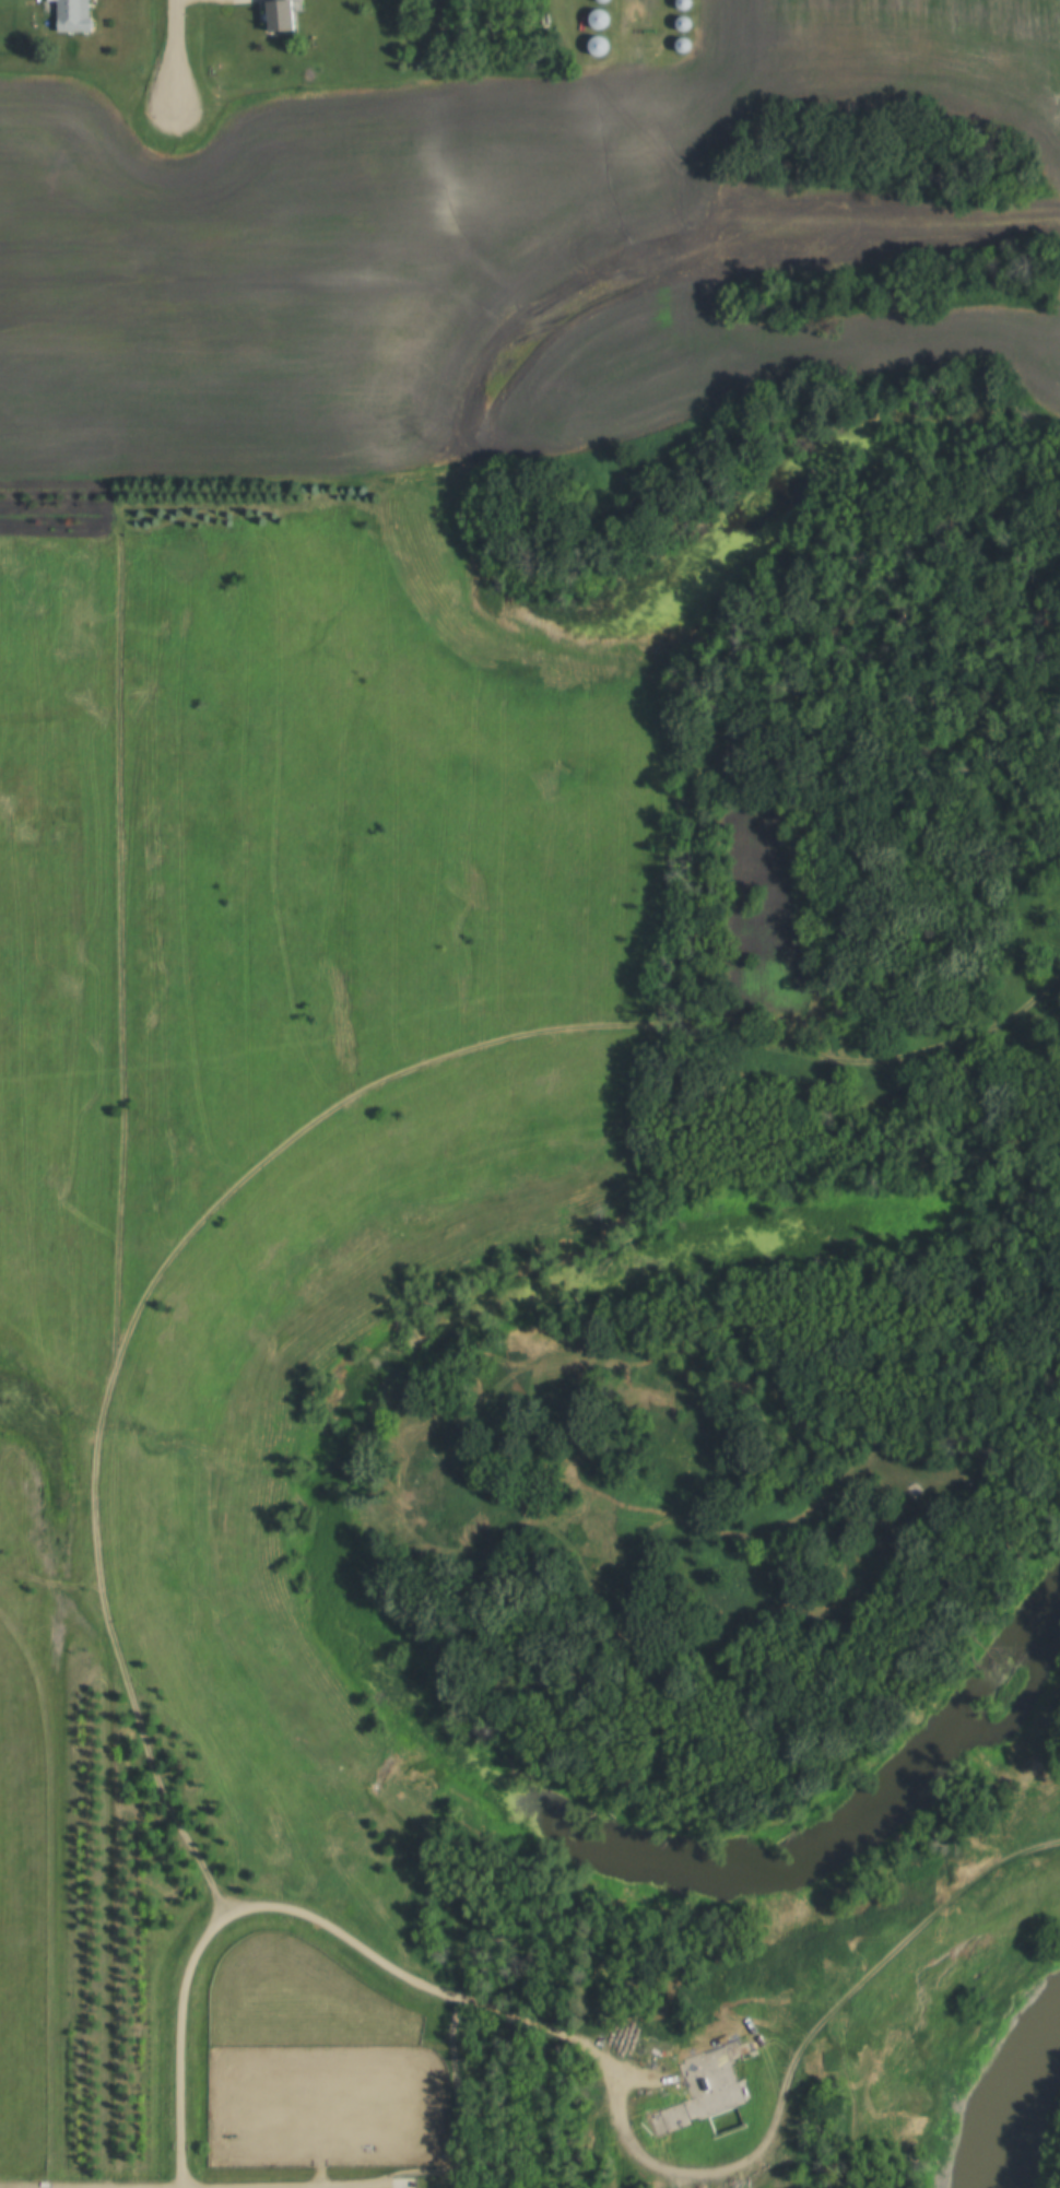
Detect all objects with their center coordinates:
building: (72, 14)
building: (280, 14)
road: (636, 20)
road: (175, 50)
road: (363, 1949)
river: (994, 2084)
building: (707, 2090)
road: (250, 2183)

